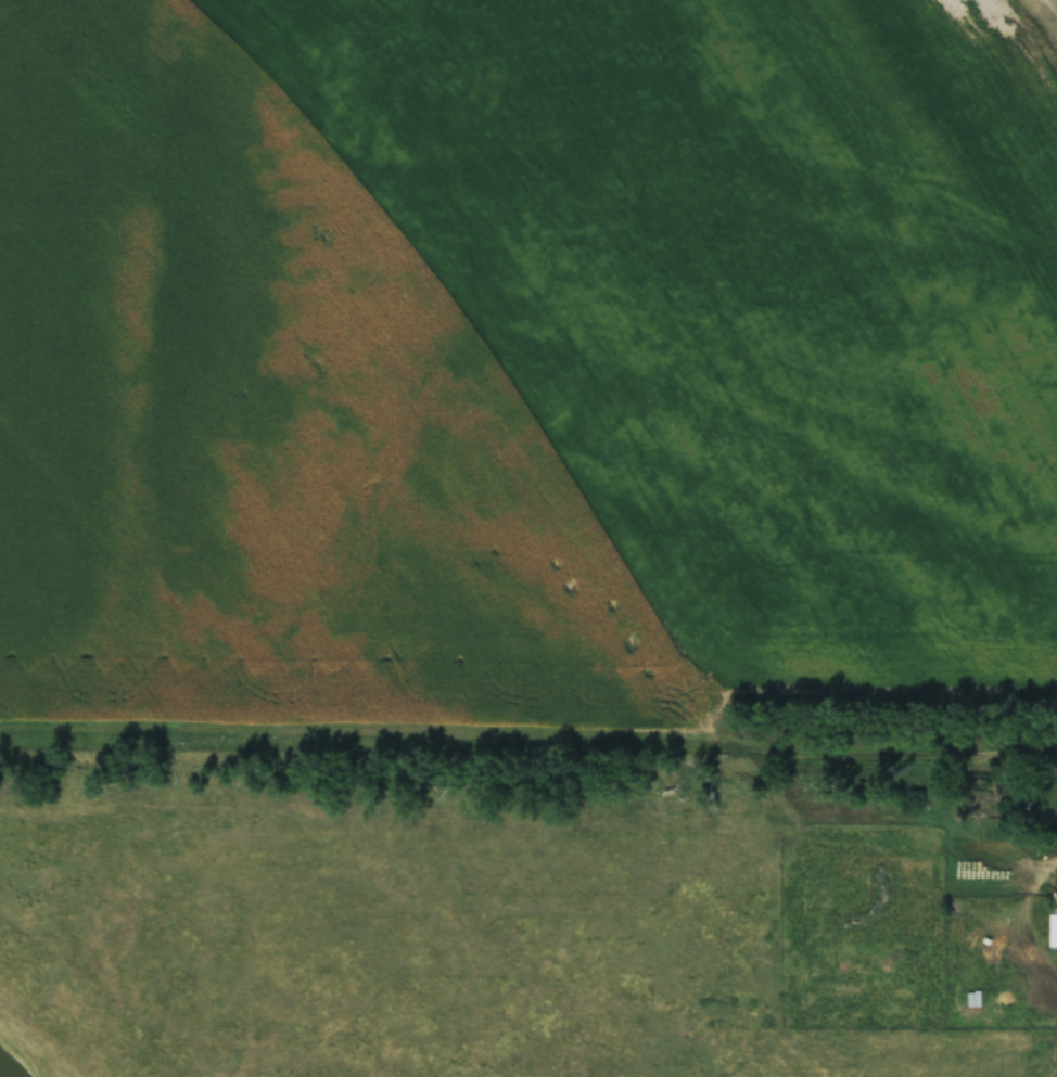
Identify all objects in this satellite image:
building: (1053, 932)

